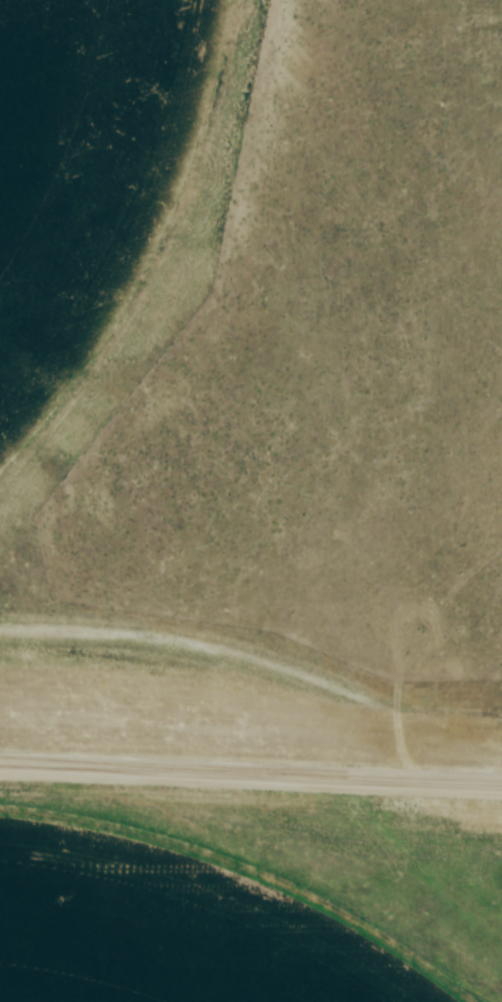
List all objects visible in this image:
crop: (91, 183)
crop: (230, 853)

